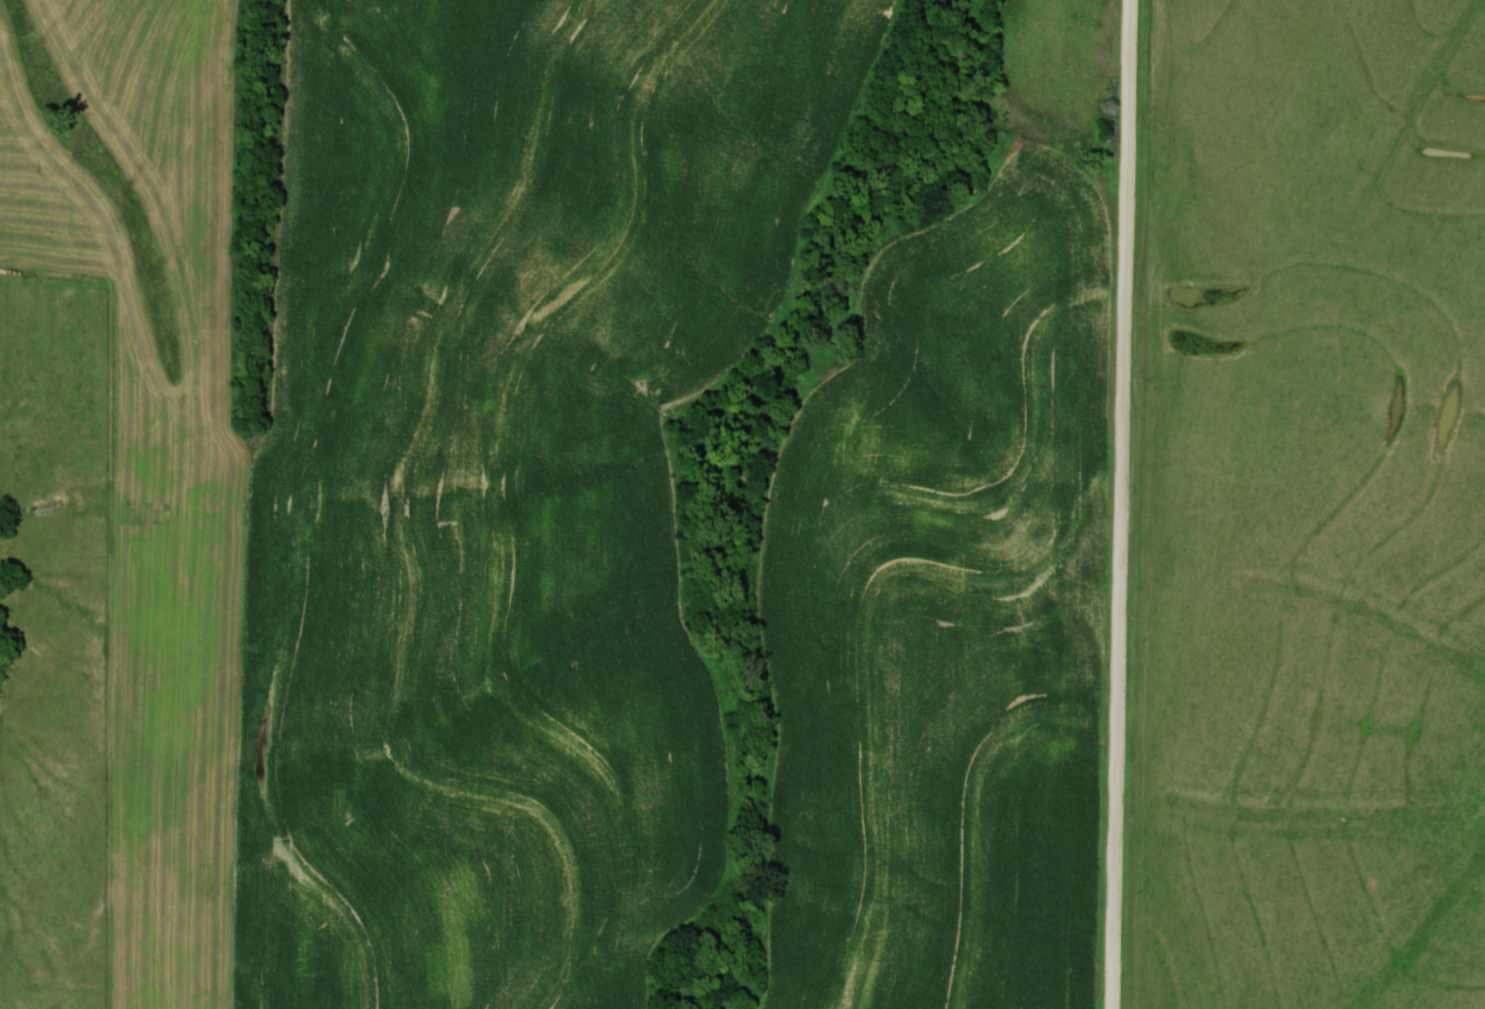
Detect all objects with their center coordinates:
road: (1123, 504)

